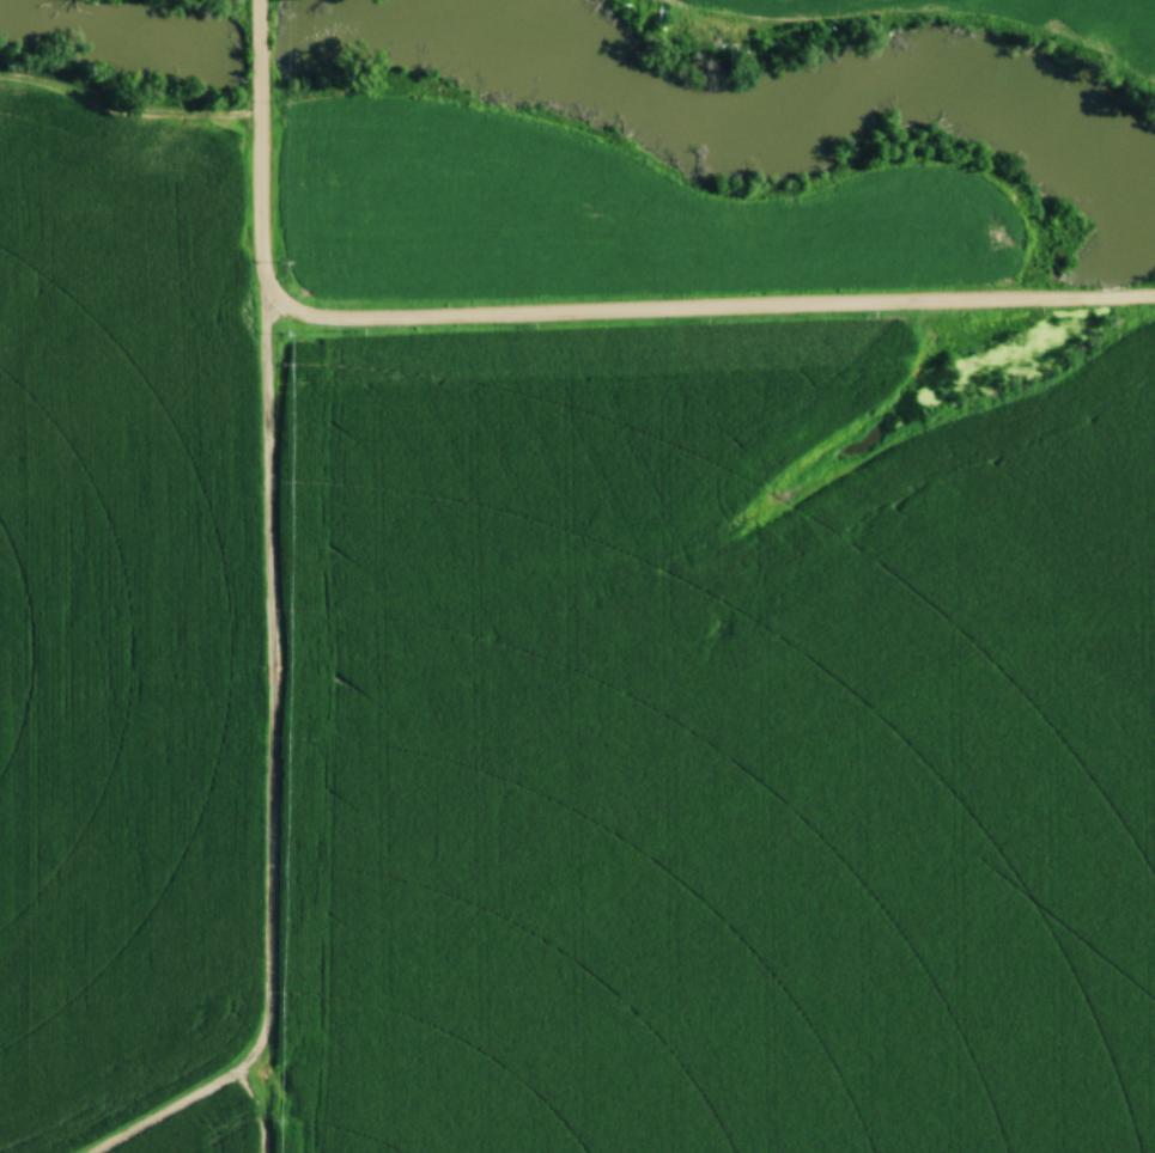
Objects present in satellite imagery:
road: (261, 154)
road: (717, 305)

